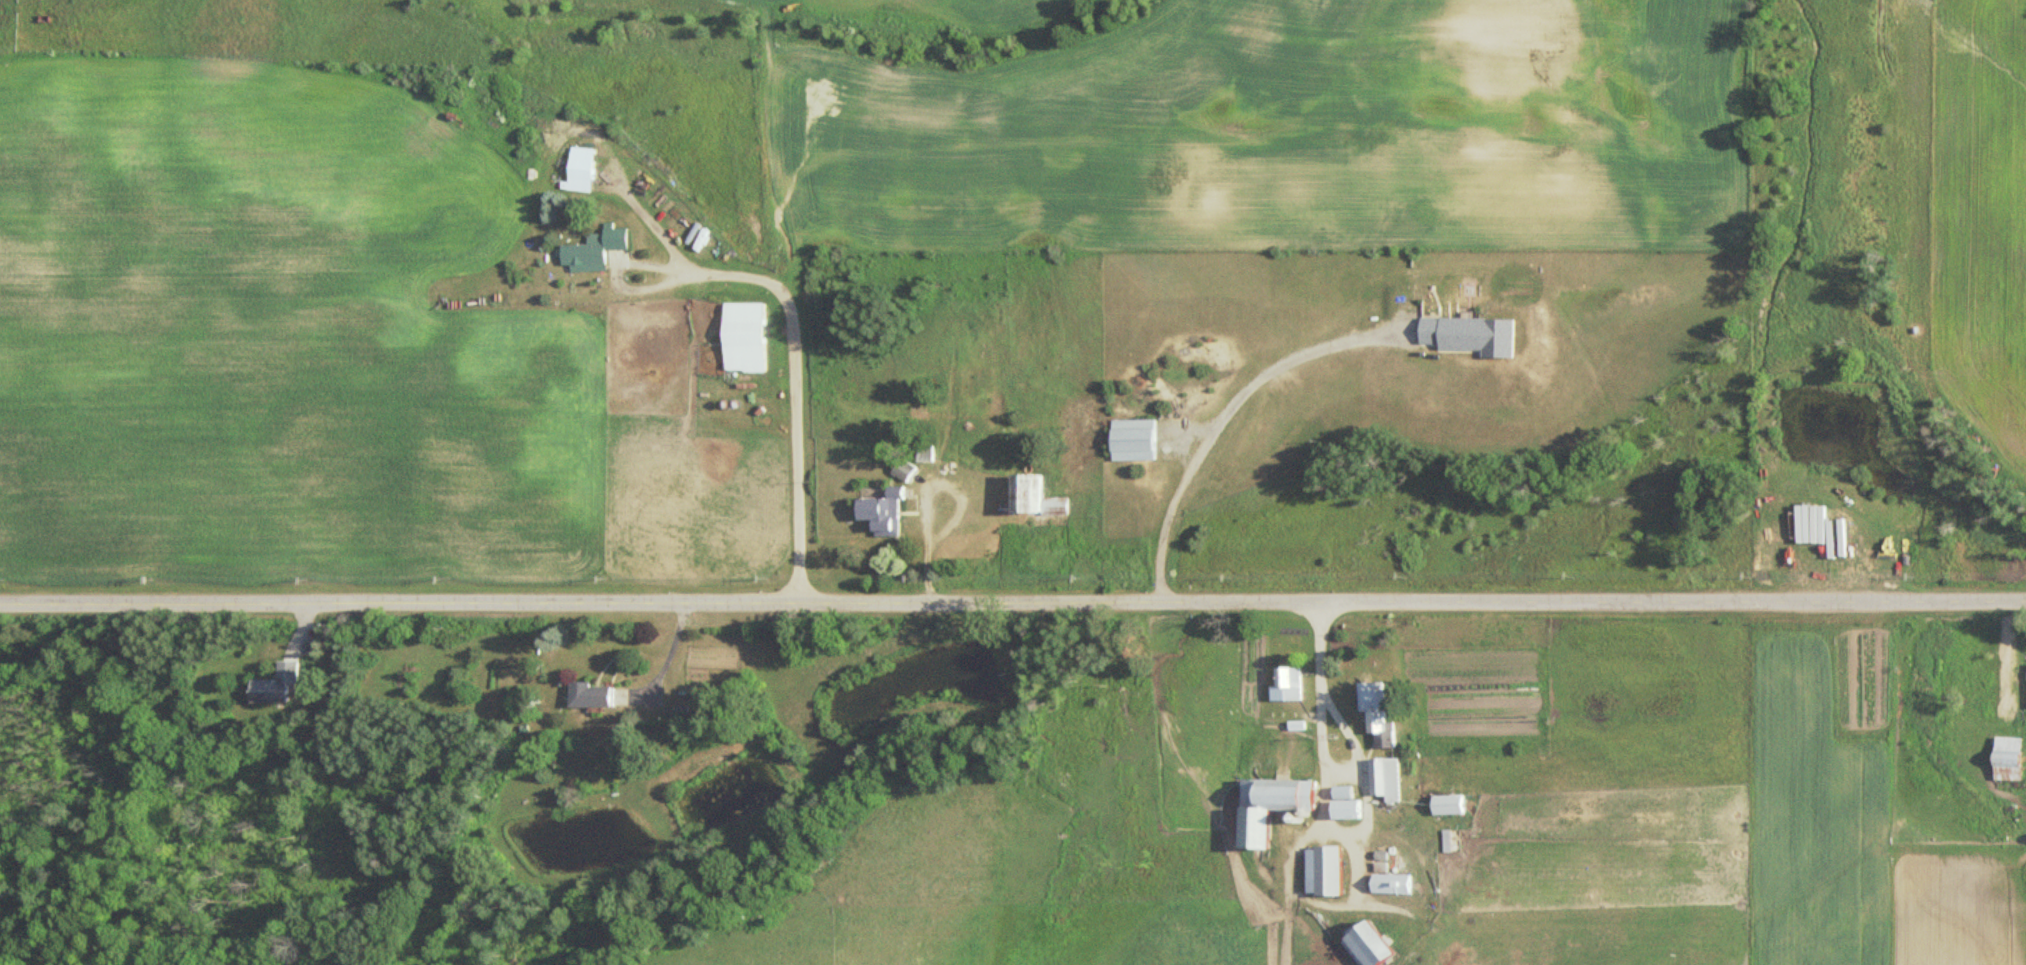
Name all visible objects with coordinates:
building: (577, 169)
building: (591, 247)
building: (1466, 333)
building: (741, 337)
road: (795, 359)
road: (1217, 419)
building: (1127, 439)
building: (1031, 496)
building: (876, 512)
road: (1012, 607)
building: (1286, 678)
building: (283, 685)
building: (587, 694)
building: (1376, 716)
building: (2004, 758)
building: (1382, 778)
building: (1265, 804)
building: (1442, 804)
building: (1341, 808)
building: (1318, 869)
building: (1387, 881)
building: (1362, 943)

